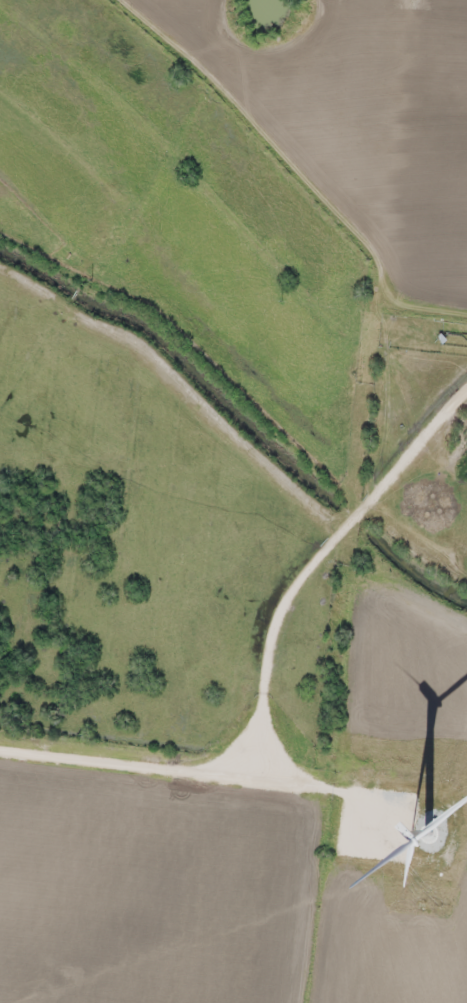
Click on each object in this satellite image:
wind turbine: (428, 807)

